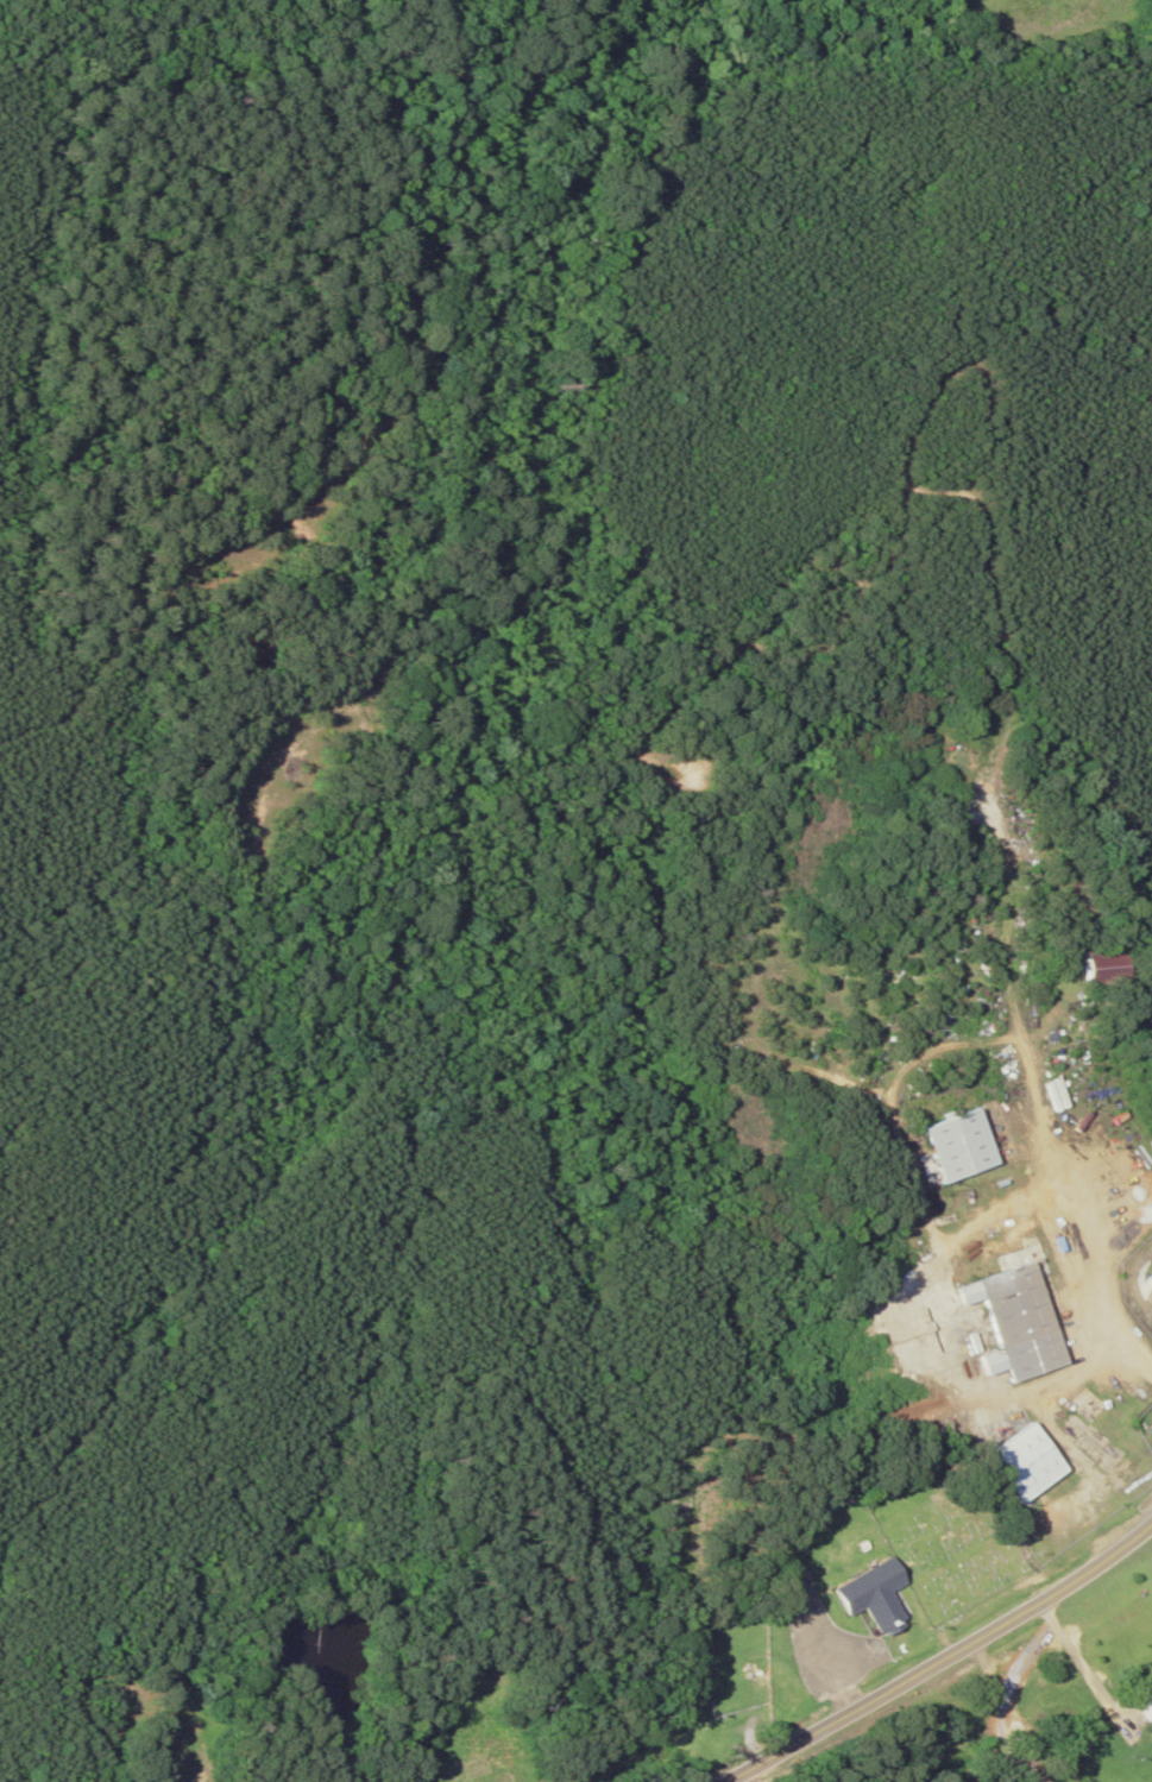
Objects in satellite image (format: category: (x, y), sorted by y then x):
building: (1094, 964)
building: (953, 1146)
building: (1148, 1279)
building: (1014, 1317)
building: (1022, 1463)
building: (791, 1543)
building: (863, 1597)
road: (942, 1655)
building: (1141, 1713)
building: (177, 1720)
building: (477, 1764)

